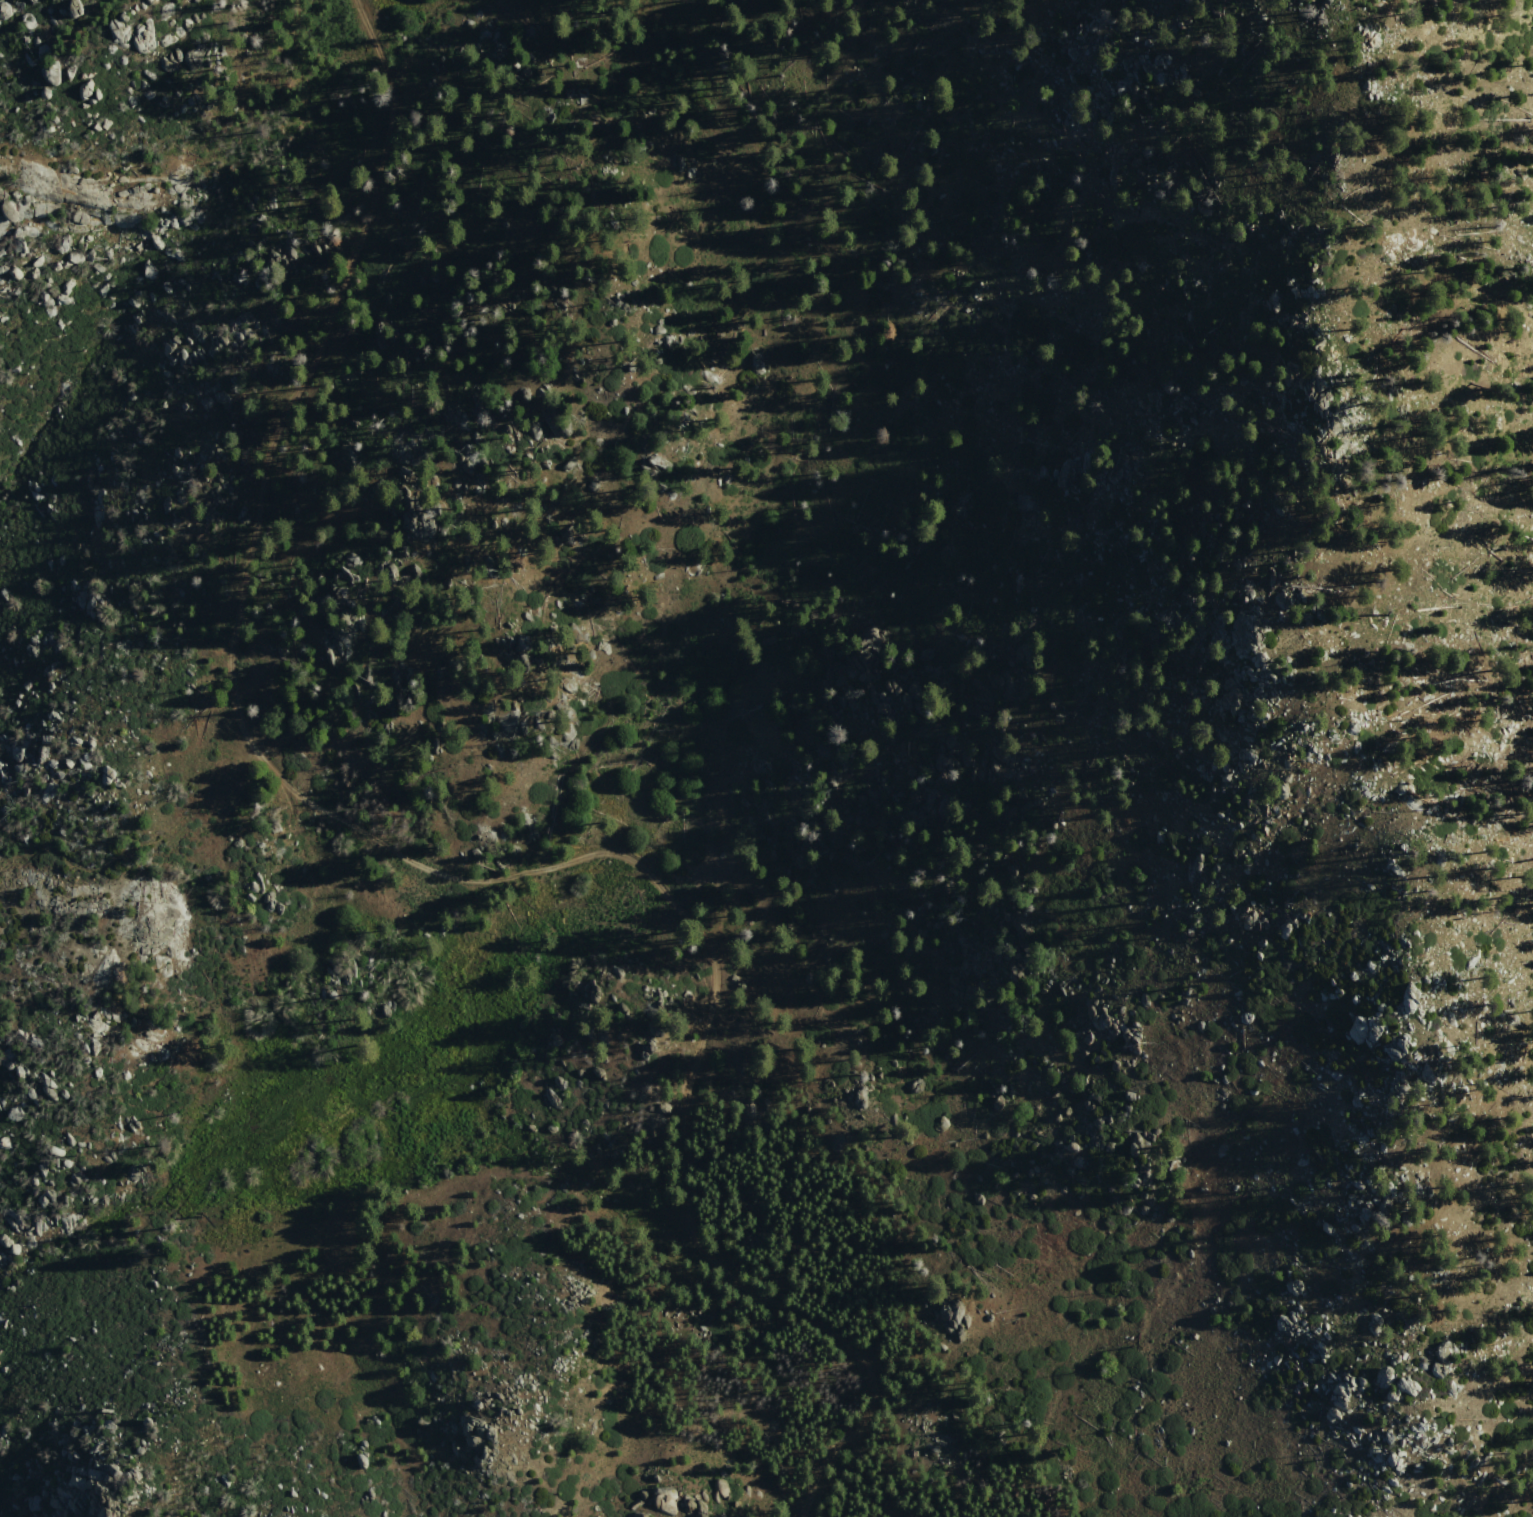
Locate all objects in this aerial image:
road: (354, 829)
road: (844, 1444)

